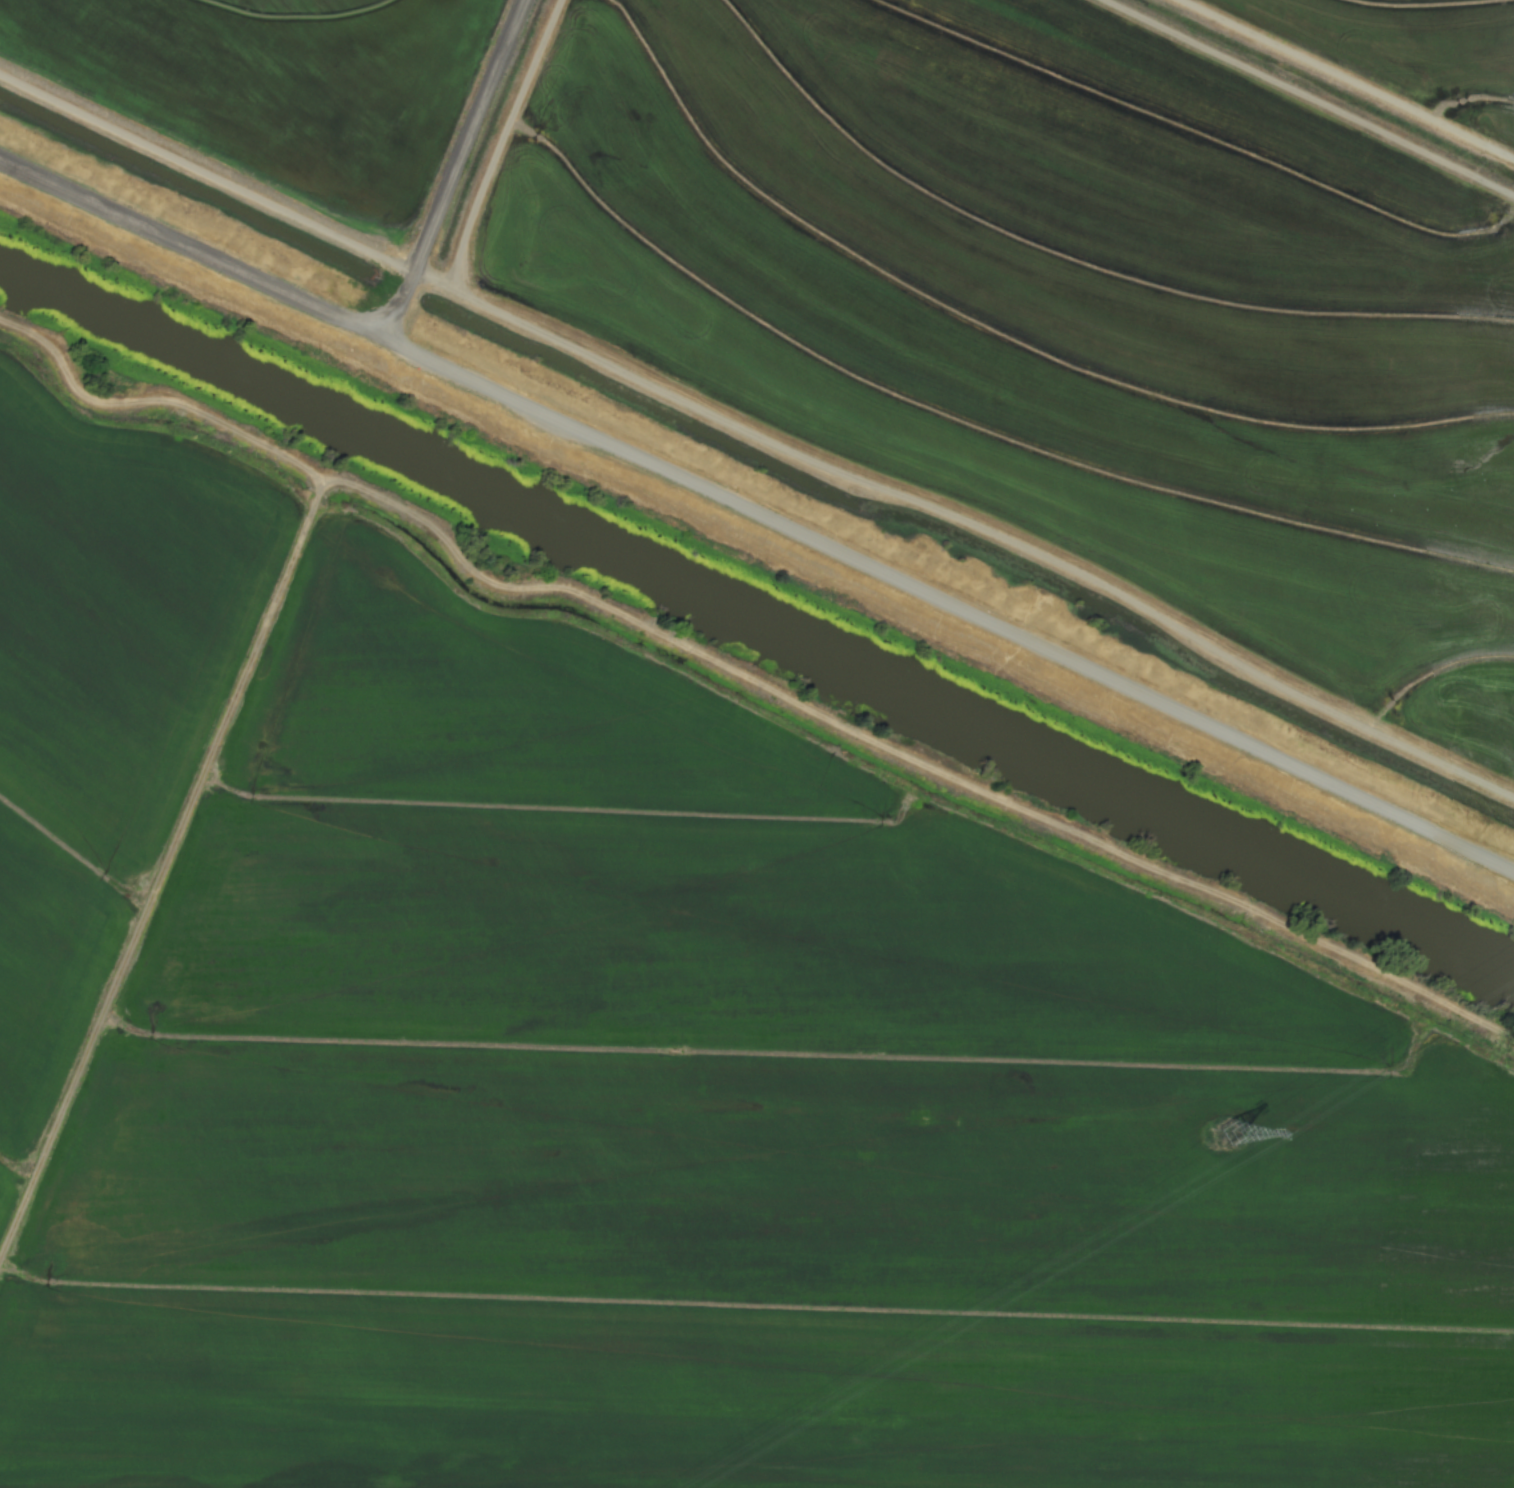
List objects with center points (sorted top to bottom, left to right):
road: (458, 172)
crop: (951, 280)
road: (757, 518)
power tower: (1233, 1137)

